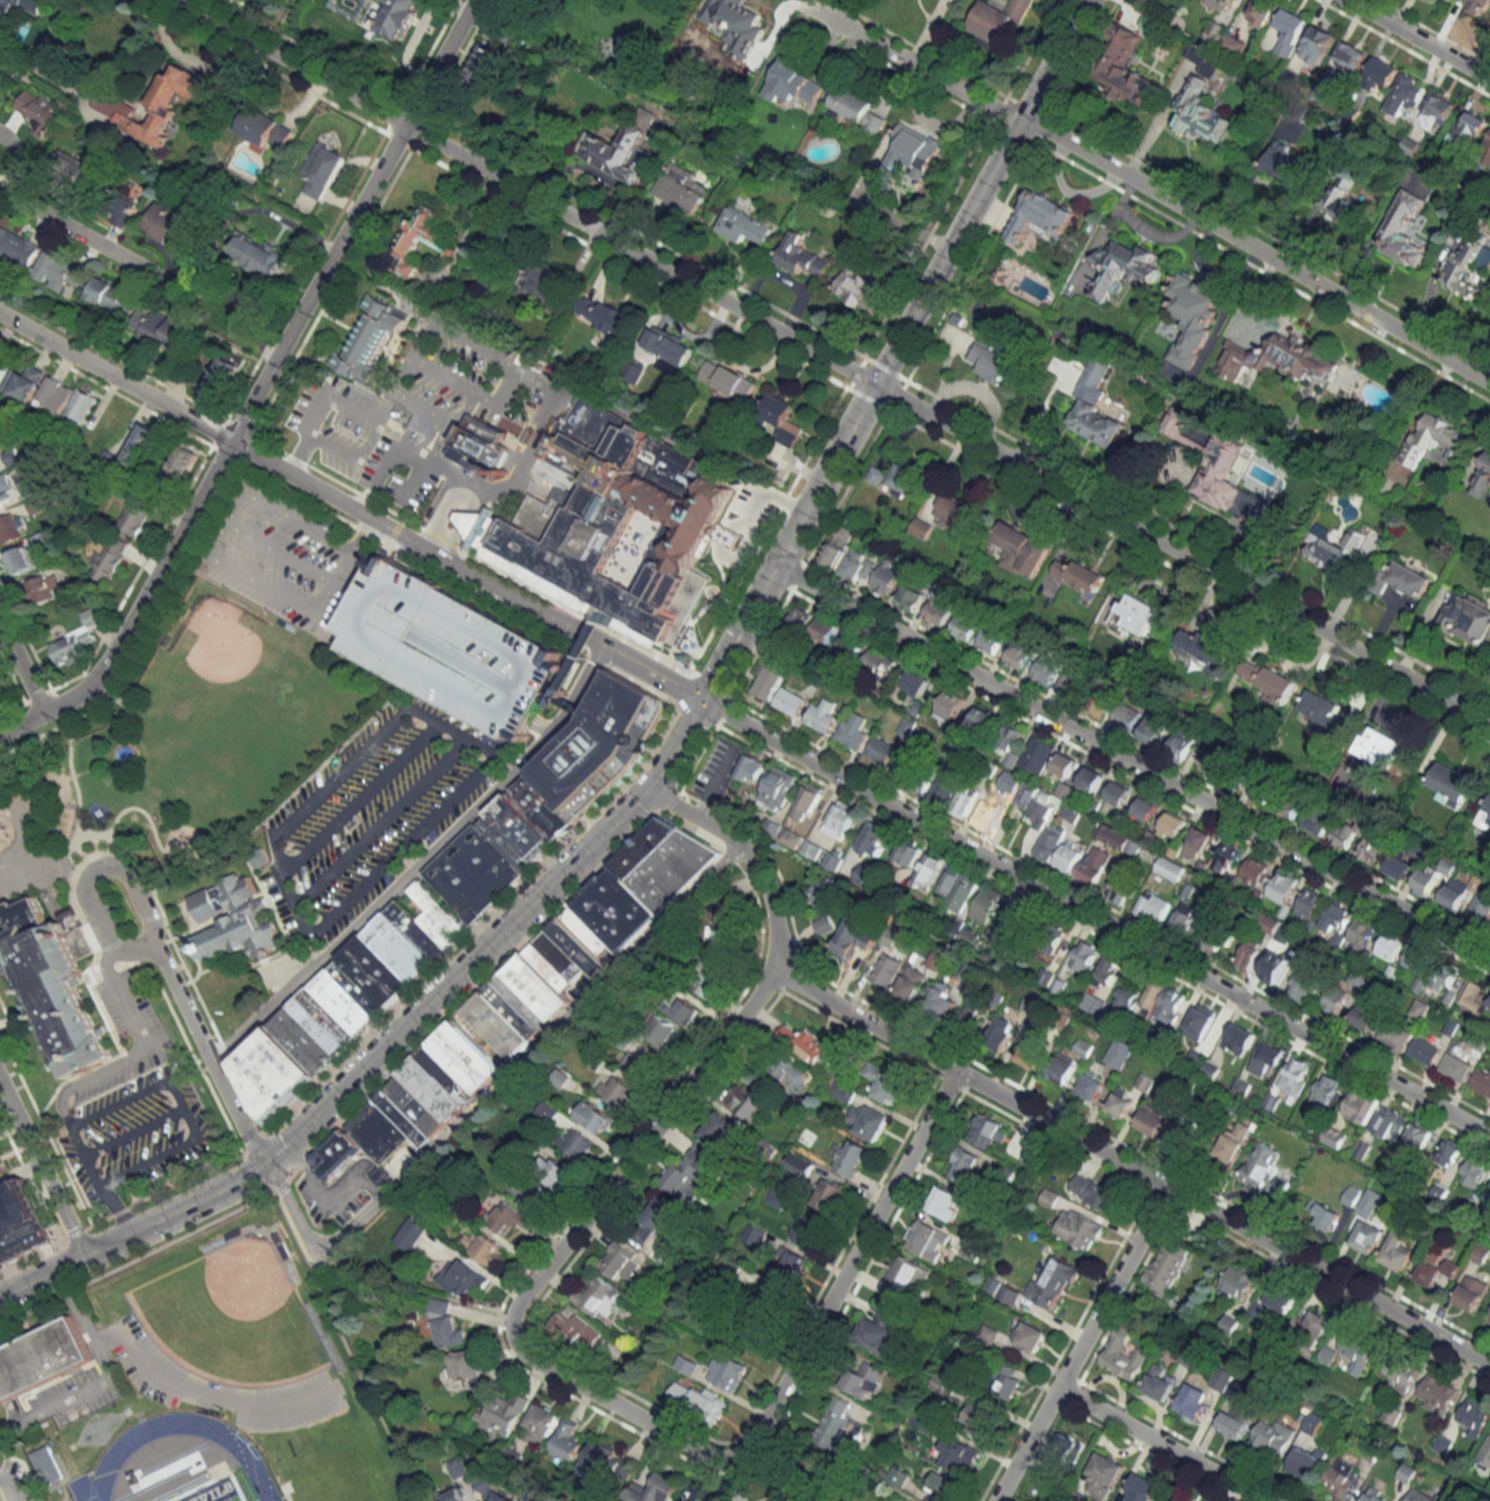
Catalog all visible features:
building: (1448, 0)
building: (1224, 3)
building: (1477, 7)
building: (37, 8)
building: (1261, 12)
building: (398, 17)
building: (999, 18)
building: (1215, 31)
building: (1289, 31)
road: (1417, 41)
building: (1233, 44)
building: (1317, 44)
building: (1350, 54)
building: (62, 55)
road: (1054, 60)
building: (1124, 66)
building: (1381, 72)
building: (793, 81)
building: (3, 84)
building: (1405, 94)
building: (1202, 102)
building: (164, 105)
building: (34, 106)
building: (855, 108)
building: (1440, 110)
road: (1154, 123)
building: (264, 129)
building: (1468, 129)
building: (1408, 145)
building: (1486, 150)
building: (1284, 152)
building: (621, 153)
building: (902, 153)
building: (69, 167)
road: (994, 168)
building: (321, 170)
building: (682, 188)
road: (1146, 188)
building: (1342, 200)
building: (117, 208)
building: (1040, 215)
building: (745, 225)
building: (168, 226)
road: (73, 230)
building: (1404, 230)
road: (466, 236)
building: (419, 237)
building: (18, 248)
building: (260, 255)
building: (802, 256)
building: (1122, 267)
building: (1462, 270)
building: (61, 272)
building: (546, 283)
building: (857, 289)
building: (113, 297)
road: (921, 300)
building: (605, 315)
building: (1191, 316)
building: (166, 328)
road: (453, 334)
building: (371, 340)
building: (668, 346)
road: (114, 355)
building: (1279, 359)
building: (990, 361)
road: (833, 362)
building: (3, 372)
road: (401, 372)
building: (1095, 372)
building: (222, 378)
building: (728, 381)
building: (24, 384)
road: (258, 387)
building: (55, 395)
building: (81, 406)
road: (435, 411)
building: (781, 419)
building: (1097, 423)
road: (238, 424)
road: (395, 427)
road: (428, 433)
road: (441, 433)
building: (1434, 438)
road: (334, 440)
building: (478, 445)
building: (140, 446)
road: (245, 446)
road: (296, 449)
road: (306, 454)
building: (1209, 458)
building: (185, 460)
road: (521, 462)
road: (276, 466)
chimney: (502, 470)
building: (875, 475)
road: (415, 477)
building: (904, 479)
building: (1482, 480)
road: (843, 487)
building: (6, 488)
road: (371, 488)
road: (467, 490)
road: (465, 503)
road: (756, 503)
building: (36, 505)
building: (135, 510)
building: (957, 512)
road: (438, 515)
road: (226, 518)
road: (462, 519)
road: (297, 521)
building: (610, 522)
building: (11, 528)
building: (921, 528)
road: (764, 529)
building: (843, 533)
road: (356, 534)
road: (367, 539)
road: (448, 543)
building: (1022, 549)
building: (1337, 551)
road: (280, 552)
road: (466, 552)
building: (833, 554)
building: (23, 559)
building: (109, 562)
building: (857, 566)
road: (794, 573)
building: (1078, 575)
building: (887, 577)
building: (1409, 579)
road: (265, 581)
road: (335, 583)
building: (44, 588)
building: (910, 598)
road: (160, 599)
building: (937, 612)
building: (1137, 614)
building: (1467, 618)
building: (799, 621)
building: (964, 626)
building: (821, 630)
road: (578, 633)
building: (76, 640)
road: (758, 640)
building: (990, 641)
building: (848, 647)
building: (450, 648)
parking lot: (450, 648)
building: (1203, 648)
building: (1019, 653)
road: (21, 662)
building: (879, 662)
building: (1045, 671)
road: (651, 673)
building: (769, 677)
building: (1268, 677)
road: (585, 681)
building: (915, 682)
building: (1071, 682)
road: (707, 684)
road: (678, 688)
building: (1, 701)
building: (790, 701)
building: (1103, 704)
building: (948, 705)
road: (721, 708)
building: (1323, 713)
road: (692, 714)
building: (823, 715)
building: (1127, 717)
building: (982, 719)
park: (257, 723)
road: (450, 727)
building: (1155, 728)
park: (208, 732)
building: (850, 735)
building: (1011, 738)
building: (1181, 743)
building: (600, 744)
building: (1380, 746)
building: (880, 751)
road: (698, 754)
building: (1038, 755)
road: (1132, 762)
building: (1210, 763)
building: (1065, 764)
road: (342, 768)
building: (749, 768)
building: (902, 770)
building: (1236, 773)
building: (921, 780)
building: (1092, 780)
building: (1009, 781)
building: (1451, 782)
building: (778, 789)
building: (946, 790)
building: (1264, 791)
building: (1119, 793)
road: (75, 797)
road: (668, 798)
building: (965, 801)
building: (807, 802)
building: (1035, 804)
building: (1290, 805)
building: (987, 808)
building: (1487, 808)
building: (1146, 809)
building: (1071, 814)
building: (841, 819)
building: (1318, 823)
building: (1173, 826)
building: (1488, 826)
building: (782, 833)
building: (1112, 836)
building: (874, 838)
building: (1200, 840)
building: (1049, 843)
road: (395, 846)
building: (812, 849)
building: (1373, 850)
road: (742, 852)
building: (907, 852)
building: (1229, 857)
building: (1068, 858)
building: (1094, 866)
building: (481, 867)
building: (1399, 867)
building: (1170, 868)
building: (927, 871)
building: (1256, 872)
building: (1426, 881)
building: (1283, 887)
building: (958, 888)
road: (393, 891)
building: (1120, 892)
building: (1455, 893)
building: (824, 894)
road: (290, 897)
road: (443, 900)
building: (1310, 903)
building: (987, 904)
road: (143, 905)
building: (1154, 905)
building: (1480, 908)
road: (95, 912)
building: (230, 916)
road: (1096, 916)
building: (1184, 916)
building: (1337, 917)
road: (516, 919)
road: (477, 923)
building: (1268, 923)
building: (824, 925)
building: (722, 927)
road: (164, 928)
building: (1284, 932)
building: (1363, 933)
building: (854, 937)
building: (890, 937)
building: (971, 937)
building: (1211, 939)
building: (1053, 940)
building: (1391, 946)
building: (1249, 954)
building: (1086, 956)
building: (1418, 959)
building: (1108, 968)
building: (1274, 968)
building: (886, 969)
building: (1444, 976)
building: (51, 978)
building: (710, 981)
building: (910, 983)
building: (1306, 984)
road: (470, 992)
building: (1475, 995)
building: (1151, 997)
road: (96, 998)
road: (121, 998)
building: (523, 998)
building: (1125, 999)
building: (941, 1000)
building: (1333, 1001)
building: (345, 1002)
building: (1170, 1004)
building: (1096, 1005)
building: (1419, 1008)
building: (1489, 1008)
building: (680, 1010)
building: (1363, 1018)
building: (971, 1020)
building: (1200, 1023)
building: (660, 1033)
building: (1000, 1033)
building: (1394, 1035)
building: (1238, 1039)
building: (803, 1042)
building: (1426, 1049)
building: (1030, 1052)
road: (209, 1055)
building: (1267, 1057)
building: (1116, 1058)
building: (1196, 1058)
building: (636, 1063)
building: (1455, 1067)
building: (1061, 1071)
building: (785, 1073)
building: (1295, 1075)
road: (83, 1078)
road: (495, 1081)
building: (1481, 1082)
building: (884, 1083)
building: (1091, 1086)
building: (1325, 1090)
building: (617, 1091)
building: (842, 1091)
building: (746, 1099)
building: (1271, 1101)
building: (1120, 1102)
building: (1360, 1106)
building: (547, 1111)
building: (594, 1117)
building: (1153, 1118)
building: (151, 1121)
building: (868, 1122)
building: (1389, 1122)
building: (1184, 1127)
building: (717, 1128)
building: (986, 1131)
building: (1420, 1135)
building: (1334, 1137)
building: (1233, 1142)
building: (575, 1143)
road: (276, 1149)
building: (1448, 1151)
building: (1035, 1156)
building: (154, 1157)
building: (848, 1157)
building: (799, 1164)
building: (962, 1165)
road: (1129, 1167)
building: (1, 1168)
road: (18, 1168)
road: (41, 1169)
road: (286, 1169)
building: (689, 1171)
building: (1263, 1171)
building: (555, 1172)
building: (1474, 1173)
building: (382, 1175)
road: (97, 1179)
road: (278, 1183)
building: (1093, 1191)
road: (324, 1194)
building: (829, 1194)
building: (529, 1195)
building: (1350, 1196)
building: (777, 1198)
building: (1049, 1198)
building: (943, 1203)
building: (1487, 1203)
building: (1365, 1208)
building: (1325, 1216)
building: (510, 1219)
building: (652, 1221)
building: (21, 1224)
building: (1079, 1229)
building: (810, 1233)
building: (410, 1234)
building: (754, 1234)
building: (927, 1235)
building: (1367, 1236)
building: (483, 1248)
building: (971, 1251)
building: (1396, 1251)
building: (1480, 1254)
building: (620, 1261)
building: (790, 1267)
building: (1436, 1269)
building: (1165, 1270)
building: (900, 1278)
building: (463, 1279)
building: (1237, 1283)
building: (1051, 1285)
road: (412, 1289)
building: (1002, 1290)
building: (1471, 1291)
building: (599, 1297)
building: (1279, 1300)
park: (230, 1316)
building: (1488, 1318)
building: (1317, 1323)
building: (1229, 1324)
building: (447, 1325)
building: (575, 1331)
building: (878, 1331)
building: (988, 1333)
building: (1030, 1336)
road: (349, 1344)
road: (1081, 1344)
building: (1355, 1350)
building: (38, 1354)
building: (1122, 1355)
building: (686, 1364)
building: (463, 1366)
building: (1401, 1371)
building: (726, 1372)
road: (101, 1375)
building: (863, 1379)
building: (1221, 1379)
building: (1008, 1381)
building: (1159, 1382)
building: (1437, 1394)
building: (697, 1398)
building: (1193, 1401)
road: (608, 1402)
building: (1237, 1412)
building: (504, 1414)
building: (1475, 1417)
building: (978, 1419)
building: (542, 1423)
building: (1313, 1423)
building: (838, 1426)
building: (1272, 1437)
building: (568, 1441)
road: (1159, 1445)
building: (1067, 1451)
track: (112, 1454)
building: (957, 1454)
building: (209, 1458)
building: (600, 1458)
building: (1486, 1458)
road: (838, 1460)
building: (1306, 1463)
building: (47, 1465)
building: (457, 1467)
building: (1106, 1469)
building: (806, 1475)
building: (898, 1477)
building: (1343, 1478)
building: (484, 1483)
building: (943, 1486)
building: (655, 1489)
building: (1143, 1489)
park: (210, 1490)
road: (2, 1494)
building: (1423, 1495)
building: (452, 1496)
building: (1377, 1496)
building: (502, 1497)
building: (1181, 1499)
building: (781, 1500)

